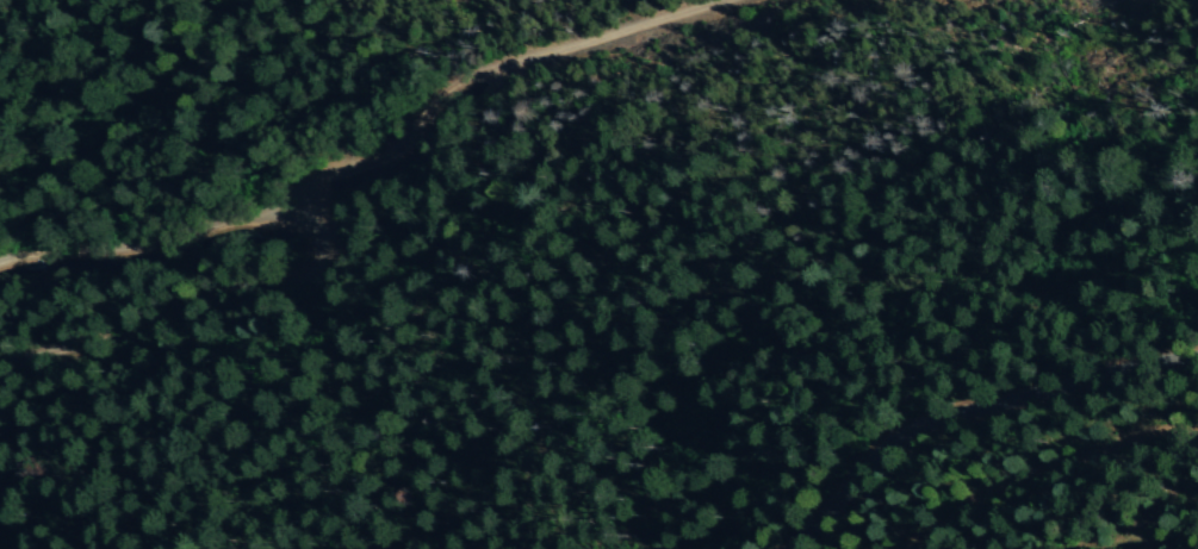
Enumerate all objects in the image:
road: (966, 405)

